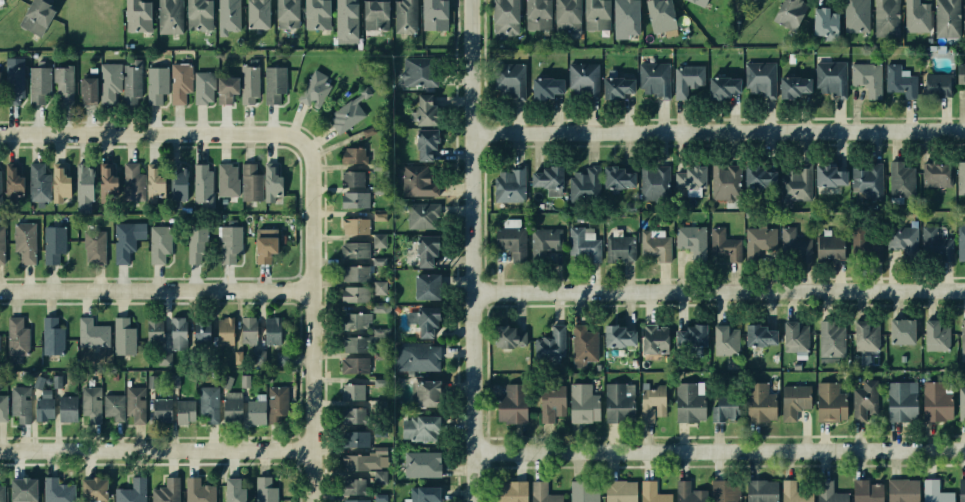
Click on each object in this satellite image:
building: (702, 2)
building: (785, 13)
building: (253, 14)
building: (283, 14)
building: (431, 14)
building: (197, 15)
building: (224, 15)
building: (374, 15)
building: (658, 15)
building: (134, 16)
building: (168, 16)
building: (314, 16)
building: (403, 16)
building: (592, 16)
building: (34, 17)
building: (501, 17)
building: (564, 17)
building: (535, 18)
building: (621, 18)
building: (915, 18)
building: (345, 19)
building: (883, 19)
building: (950, 19)
building: (853, 20)
building: (819, 22)
building: (413, 69)
building: (0, 73)
building: (962, 73)
building: (582, 77)
building: (757, 78)
building: (865, 78)
building: (507, 79)
building: (653, 79)
building: (829, 79)
building: (130, 81)
building: (543, 81)
building: (791, 81)
building: (898, 81)
building: (154, 82)
building: (178, 82)
building: (248, 82)
building: (614, 82)
building: (13, 83)
building: (109, 83)
building: (689, 83)
building: (721, 84)
building: (935, 84)
building: (308, 85)
building: (37, 86)
building: (274, 86)
building: (61, 87)
building: (200, 87)
building: (224, 87)
building: (85, 88)
building: (421, 107)
building: (344, 116)
road: (721, 132)
road: (157, 135)
building: (421, 144)
building: (350, 151)
building: (615, 172)
building: (827, 172)
building: (933, 174)
building: (542, 175)
building: (687, 175)
building: (962, 176)
building: (723, 178)
building: (271, 179)
building: (350, 179)
building: (417, 179)
building: (903, 179)
building: (104, 180)
building: (177, 180)
building: (225, 180)
building: (755, 180)
building: (249, 181)
building: (13, 182)
building: (36, 182)
building: (138, 182)
building: (199, 182)
building: (580, 182)
building: (653, 182)
building: (865, 182)
building: (58, 183)
building: (508, 183)
building: (155, 184)
building: (791, 186)
building: (82, 187)
building: (0, 190)
building: (352, 201)
building: (420, 214)
building: (353, 226)
building: (688, 239)
building: (961, 239)
building: (124, 240)
building: (380, 240)
building: (544, 240)
building: (899, 241)
building: (933, 241)
building: (24, 242)
building: (90, 242)
building: (509, 242)
building: (759, 242)
building: (197, 243)
building: (263, 243)
building: (584, 243)
building: (158, 244)
building: (229, 244)
building: (722, 244)
building: (794, 244)
building: (1, 245)
building: (53, 245)
building: (656, 246)
building: (827, 247)
building: (427, 248)
building: (861, 248)
building: (619, 249)
building: (353, 250)
road: (478, 251)
building: (352, 273)
building: (431, 283)
building: (380, 288)
road: (722, 289)
road: (158, 290)
building: (349, 296)
building: (381, 308)
building: (423, 318)
road: (316, 320)
building: (352, 322)
building: (249, 329)
building: (270, 330)
building: (152, 331)
building: (177, 331)
building: (223, 331)
building: (897, 331)
building: (502, 332)
building: (615, 332)
building: (50, 333)
building: (121, 333)
building: (198, 333)
building: (757, 333)
building: (15, 334)
building: (90, 334)
building: (932, 334)
building: (688, 335)
building: (797, 335)
building: (863, 335)
building: (964, 337)
building: (653, 338)
building: (831, 338)
building: (721, 340)
building: (583, 341)
building: (548, 345)
building: (353, 346)
building: (258, 357)
building: (420, 357)
building: (163, 358)
building: (237, 358)
building: (281, 358)
building: (354, 365)
building: (37, 381)
building: (55, 381)
building: (151, 381)
building: (173, 381)
building: (226, 381)
building: (244, 381)
building: (352, 390)
building: (424, 392)
building: (964, 397)
building: (863, 399)
building: (897, 399)
building: (791, 400)
building: (934, 400)
building: (550, 401)
building: (579, 401)
building: (652, 401)
building: (757, 401)
building: (828, 401)
building: (273, 402)
building: (615, 402)
building: (690, 402)
building: (205, 403)
building: (91, 404)
building: (507, 404)
building: (19, 405)
building: (65, 406)
building: (112, 406)
building: (134, 406)
building: (722, 406)
building: (43, 407)
building: (229, 407)
building: (2, 409)
building: (160, 410)
building: (182, 411)
building: (253, 411)
building: (351, 414)
building: (418, 429)
building: (353, 438)
road: (722, 449)
road: (158, 450)
building: (365, 458)
building: (419, 464)
building: (363, 480)
building: (229, 485)
building: (353, 486)
building: (89, 489)
building: (131, 489)
building: (199, 489)
building: (264, 489)
building: (581, 489)
building: (23, 490)
building: (54, 490)
building: (723, 490)
building: (759, 490)
building: (794, 490)
building: (865, 490)
building: (900, 490)
building: (962, 490)
building: (164, 491)
building: (509, 491)
building: (617, 491)
building: (684, 491)
building: (421, 492)
building: (650, 492)
building: (827, 492)
building: (933, 492)
building: (1, 493)
building: (541, 493)
building: (364, 499)

